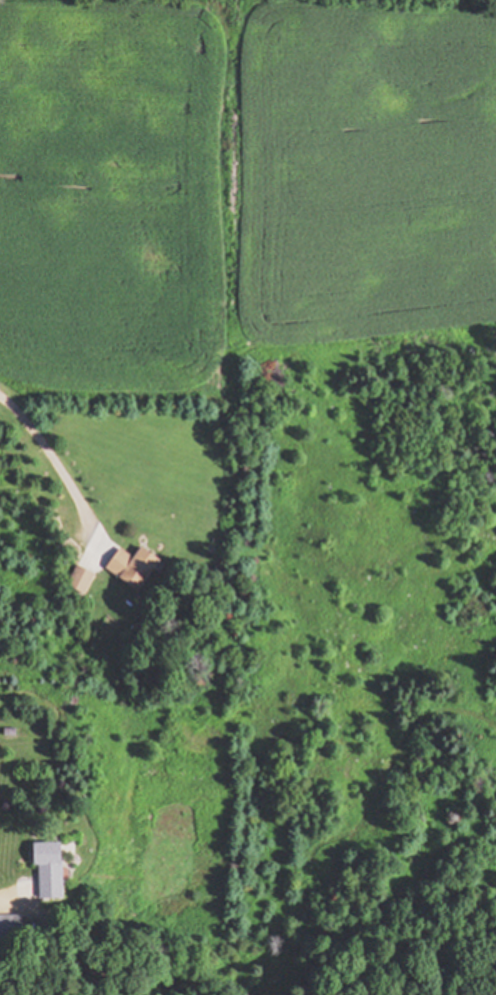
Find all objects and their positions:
building: (134, 567)
building: (81, 579)
building: (50, 870)
building: (13, 927)

